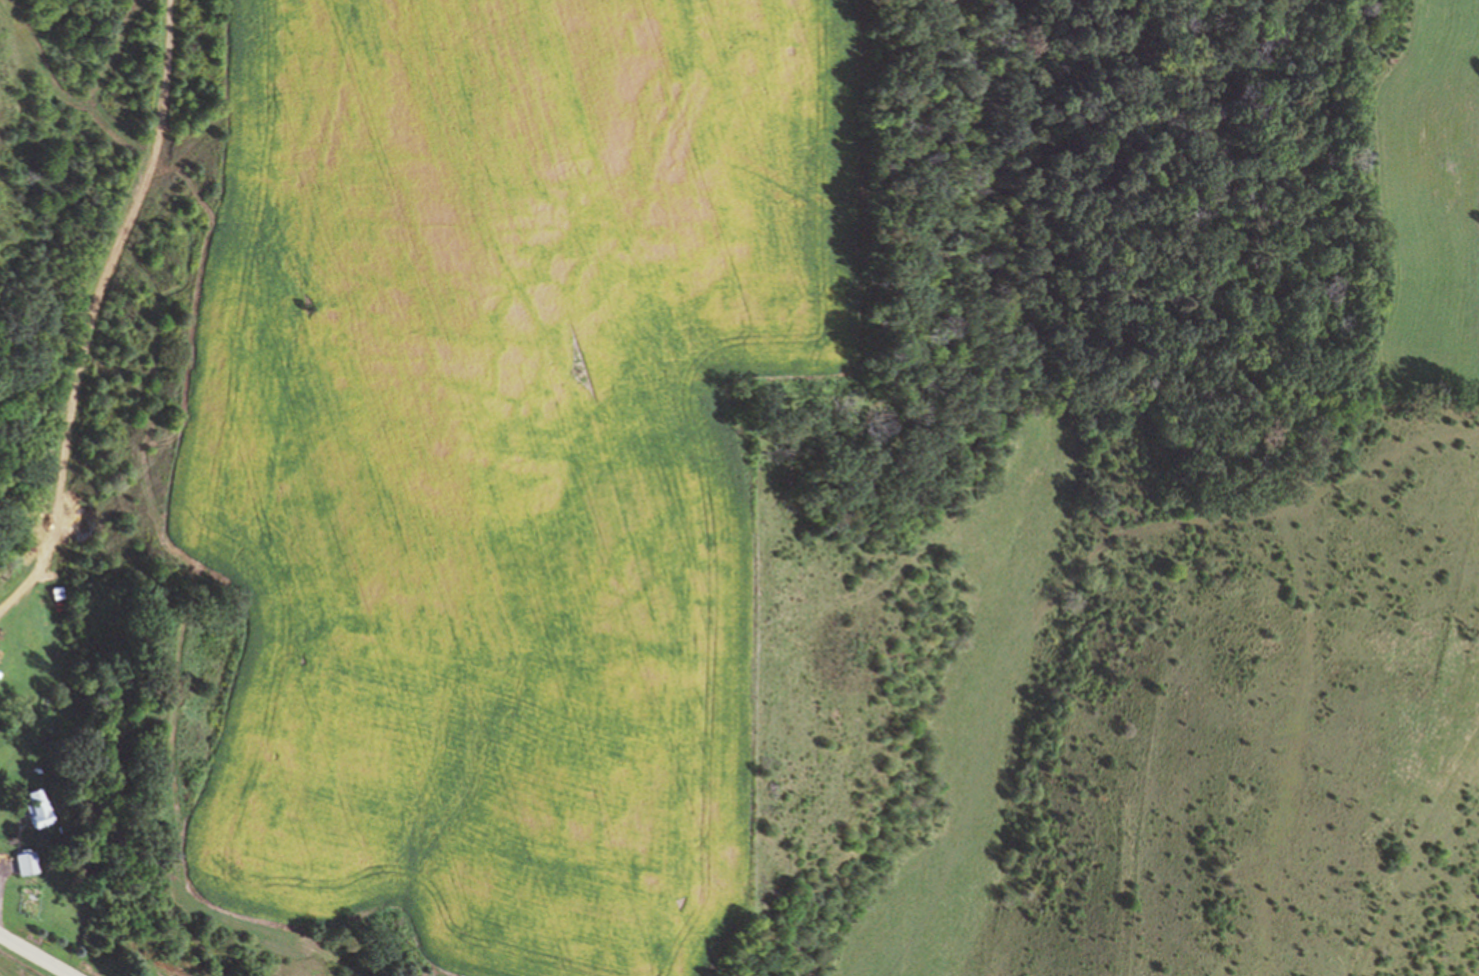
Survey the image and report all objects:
road: (87, 310)
building: (38, 807)
building: (26, 862)
road: (34, 956)

